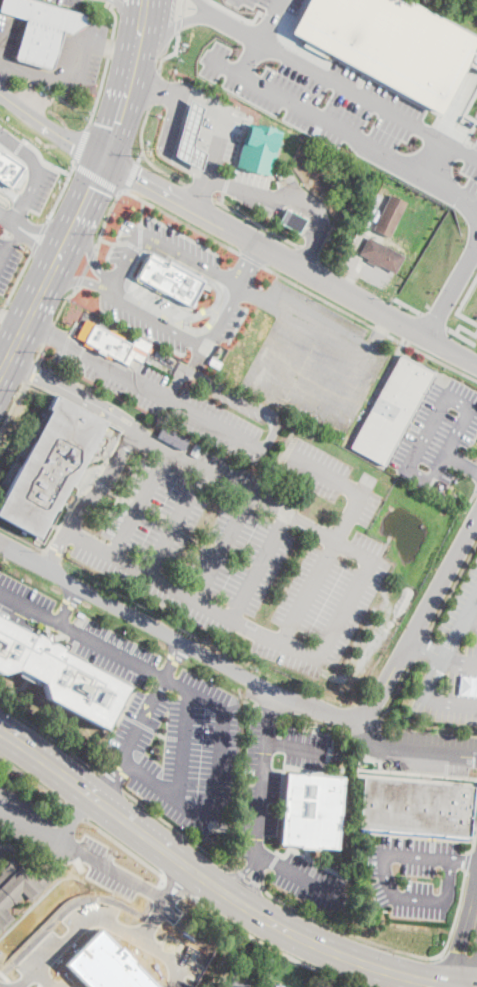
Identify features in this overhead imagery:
parking lot: (70, 2)
road: (107, 2)
road: (179, 7)
road: (204, 7)
road: (237, 14)
road: (270, 17)
road: (116, 18)
road: (128, 18)
road: (268, 20)
road: (138, 21)
road: (172, 23)
road: (177, 24)
road: (464, 27)
road: (235, 28)
building: (42, 29)
building: (386, 44)
road: (6, 45)
road: (107, 46)
road: (135, 46)
road: (110, 47)
road: (168, 53)
road: (250, 58)
parking lot: (59, 60)
road: (55, 77)
road: (154, 87)
road: (153, 89)
road: (99, 92)
road: (368, 101)
road: (203, 102)
road: (453, 107)
parking lot: (346, 111)
parking lot: (476, 114)
road: (468, 116)
road: (51, 126)
road: (341, 129)
building: (190, 137)
gas station: (190, 137)
road: (113, 142)
road: (474, 144)
road: (81, 145)
road: (165, 145)
road: (18, 146)
road: (217, 146)
building: (258, 148)
parking lot: (231, 152)
road: (144, 154)
road: (474, 154)
road: (139, 156)
road: (432, 158)
road: (235, 159)
road: (43, 160)
traffic signals: (104, 161)
building: (8, 169)
road: (35, 173)
road: (131, 175)
road: (96, 176)
parking lot: (37, 186)
road: (239, 186)
road: (60, 192)
road: (200, 192)
road: (12, 193)
road: (200, 194)
road: (141, 212)
road: (272, 215)
road: (318, 215)
building: (390, 215)
road: (77, 216)
road: (6, 218)
road: (105, 219)
road: (178, 219)
building: (292, 221)
road: (256, 223)
road: (46, 226)
road: (120, 230)
road: (180, 232)
road: (39, 237)
road: (31, 244)
road: (8, 250)
road: (89, 253)
building: (381, 255)
road: (91, 256)
parking lot: (8, 259)
road: (251, 259)
road: (290, 262)
road: (125, 264)
road: (247, 264)
road: (85, 268)
road: (219, 275)
road: (353, 275)
building: (170, 278)
road: (17, 279)
road: (79, 280)
road: (78, 281)
road: (138, 282)
road: (451, 287)
parking lot: (120, 288)
road: (63, 302)
road: (460, 303)
road: (408, 305)
road: (2, 310)
road: (214, 313)
road: (195, 315)
road: (12, 318)
road: (156, 320)
road: (434, 320)
road: (304, 322)
road: (369, 323)
road: (465, 328)
road: (49, 332)
road: (460, 336)
road: (50, 337)
building: (112, 344)
road: (39, 351)
building: (160, 354)
road: (199, 358)
parking lot: (316, 359)
road: (314, 369)
road: (30, 370)
road: (366, 371)
road: (176, 378)
road: (73, 393)
road: (170, 400)
road: (296, 402)
parking lot: (191, 403)
road: (249, 403)
road: (13, 405)
building: (392, 408)
building: (302, 430)
parking lot: (439, 434)
building: (172, 438)
road: (461, 464)
building: (49, 466)
road: (408, 467)
road: (252, 496)
road: (471, 499)
road: (89, 500)
road: (140, 504)
road: (178, 523)
road: (339, 531)
road: (23, 538)
parking lot: (236, 545)
road: (223, 548)
road: (258, 566)
road: (453, 588)
road: (190, 598)
road: (67, 604)
road: (344, 607)
road: (21, 617)
road: (470, 621)
road: (421, 646)
road: (426, 648)
road: (459, 660)
road: (173, 661)
parking lot: (452, 661)
road: (436, 668)
building: (59, 675)
road: (279, 692)
road: (394, 694)
road: (211, 703)
road: (252, 703)
road: (269, 705)
parking lot: (146, 711)
road: (140, 722)
road: (430, 725)
road: (337, 729)
road: (48, 736)
road: (371, 737)
road: (183, 744)
parking lot: (433, 752)
road: (434, 753)
road: (34, 781)
road: (111, 781)
road: (107, 782)
road: (261, 785)
building: (416, 807)
parking lot: (258, 809)
building: (311, 809)
road: (80, 814)
parking lot: (24, 815)
road: (75, 816)
road: (29, 825)
road: (179, 831)
parking lot: (2, 848)
road: (417, 856)
road: (455, 859)
road: (313, 860)
road: (468, 861)
road: (275, 862)
road: (295, 871)
road: (242, 873)
parking lot: (414, 875)
road: (262, 876)
road: (249, 877)
road: (256, 881)
road: (176, 883)
building: (18, 886)
road: (216, 887)
road: (420, 896)
road: (163, 899)
road: (219, 915)
road: (74, 931)
road: (459, 946)
road: (411, 954)
road: (459, 958)
building: (269, 961)
road: (42, 980)
building: (232, 983)
building: (280, 985)
building: (311, 986)

